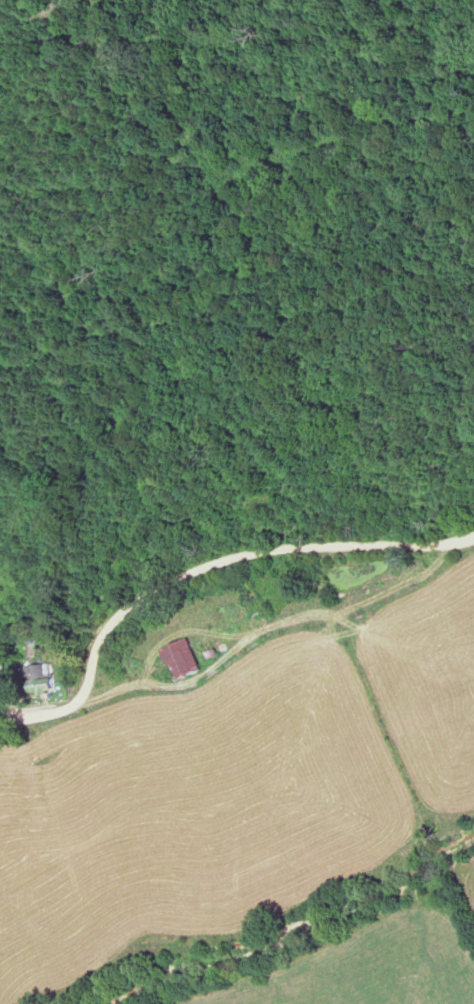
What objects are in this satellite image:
road: (200, 569)
building: (255, 611)
building: (178, 659)
building: (42, 677)

